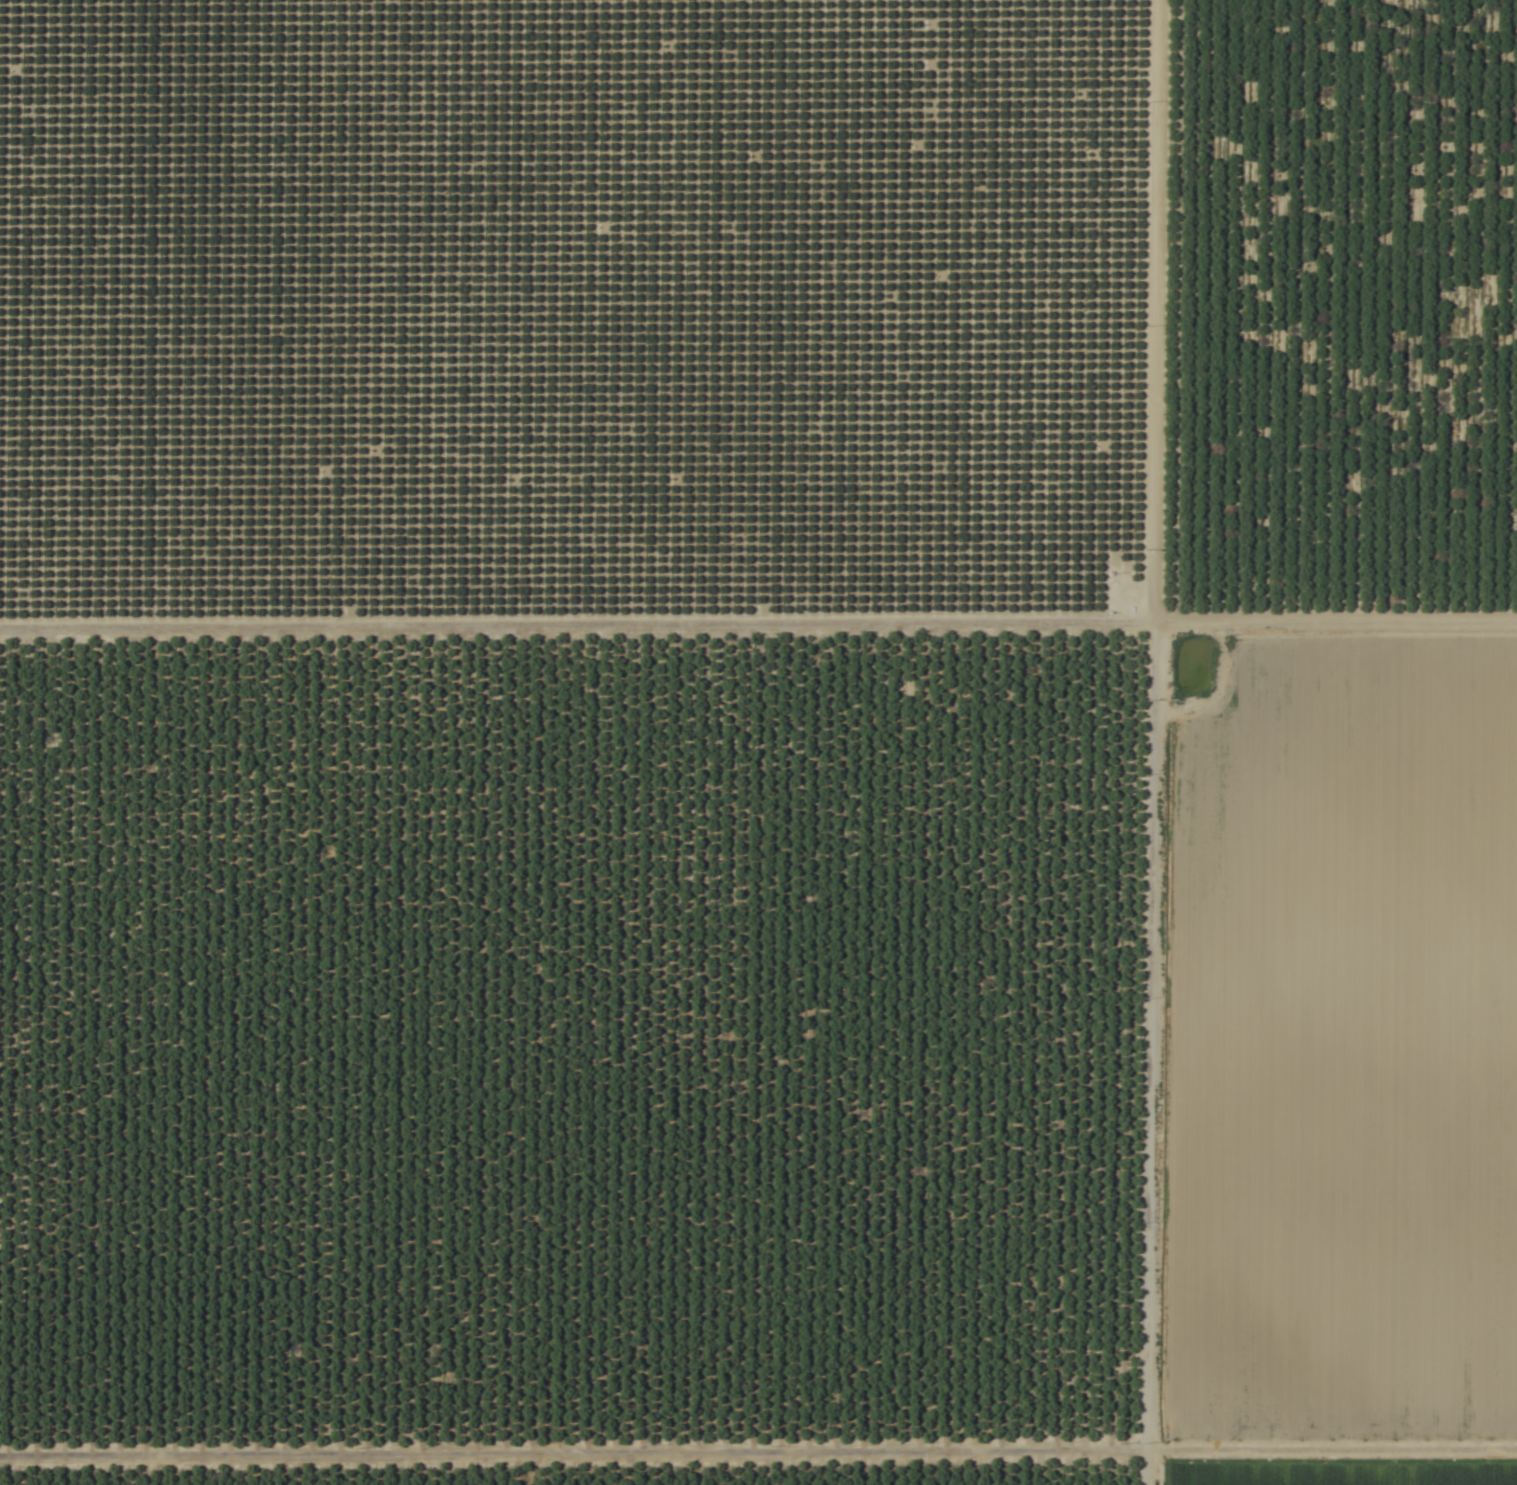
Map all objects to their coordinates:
crop: (758, 742)
road: (1170, 742)

